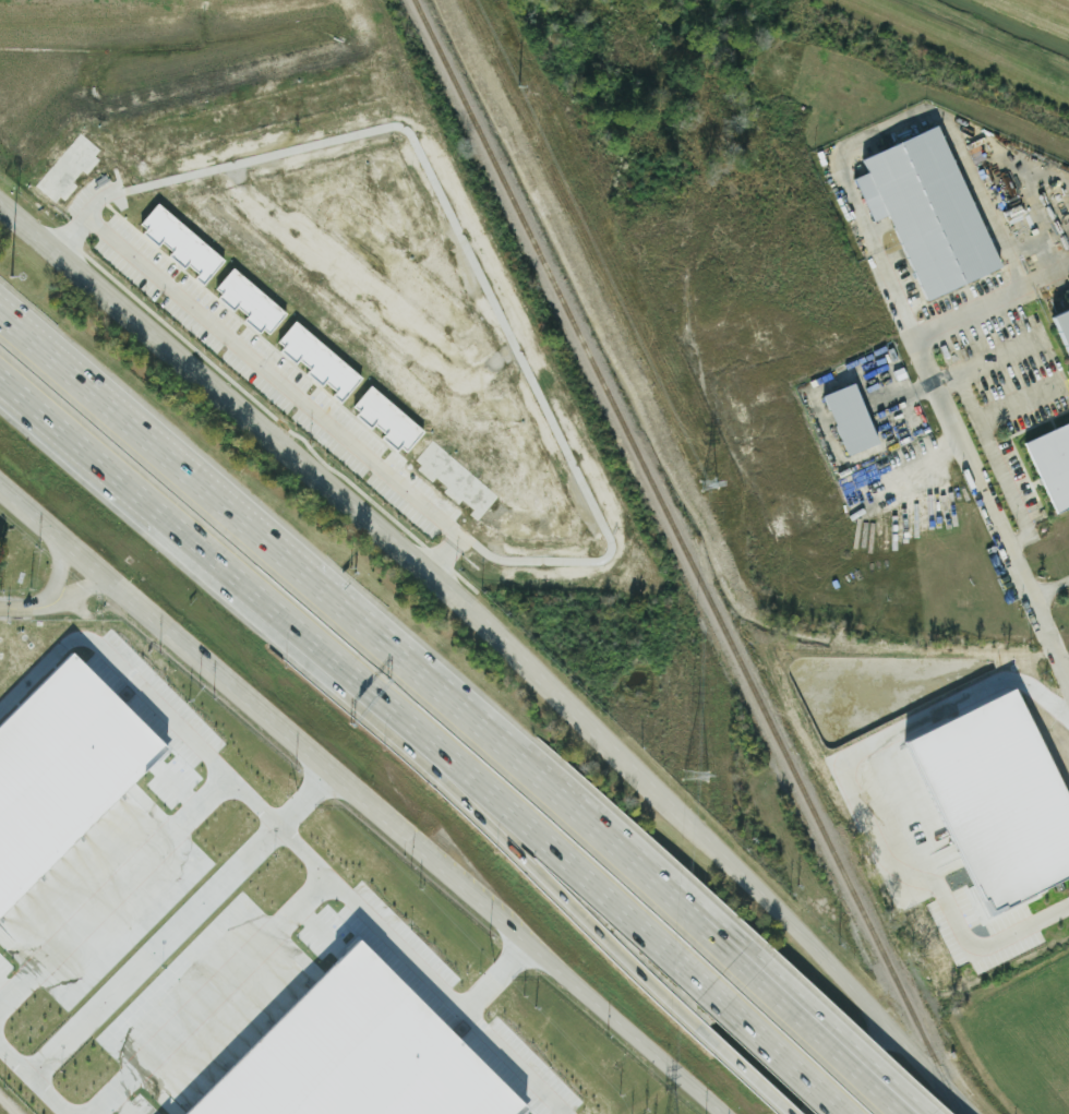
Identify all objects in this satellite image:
river: (1029, 17)
road: (952, 50)
power tower: (517, 87)
road: (882, 131)
building: (929, 213)
building: (182, 243)
road: (484, 256)
building: (252, 302)
road: (982, 308)
building: (1064, 328)
building: (321, 360)
road: (283, 380)
building: (389, 419)
building: (850, 419)
road: (701, 430)
road: (170, 455)
road: (994, 459)
building: (1053, 466)
road: (303, 468)
power tower: (708, 487)
road: (995, 527)
road: (196, 537)
railway: (688, 556)
road: (62, 562)
road: (55, 570)
road: (87, 586)
road: (1048, 591)
road: (33, 607)
building: (61, 766)
road: (539, 778)
power tower: (696, 778)
road: (889, 793)
road: (362, 796)
building: (1004, 806)
road: (287, 834)
road: (549, 849)
road: (538, 872)
road: (116, 891)
road: (179, 923)
power plant: (233, 924)
road: (789, 924)
road: (744, 962)
road: (499, 977)
road: (208, 995)
road: (844, 1035)
road: (822, 1042)
road: (776, 1051)
building: (355, 1055)
road: (846, 1070)
road: (741, 1071)
road: (32, 1081)
road: (8, 1106)

